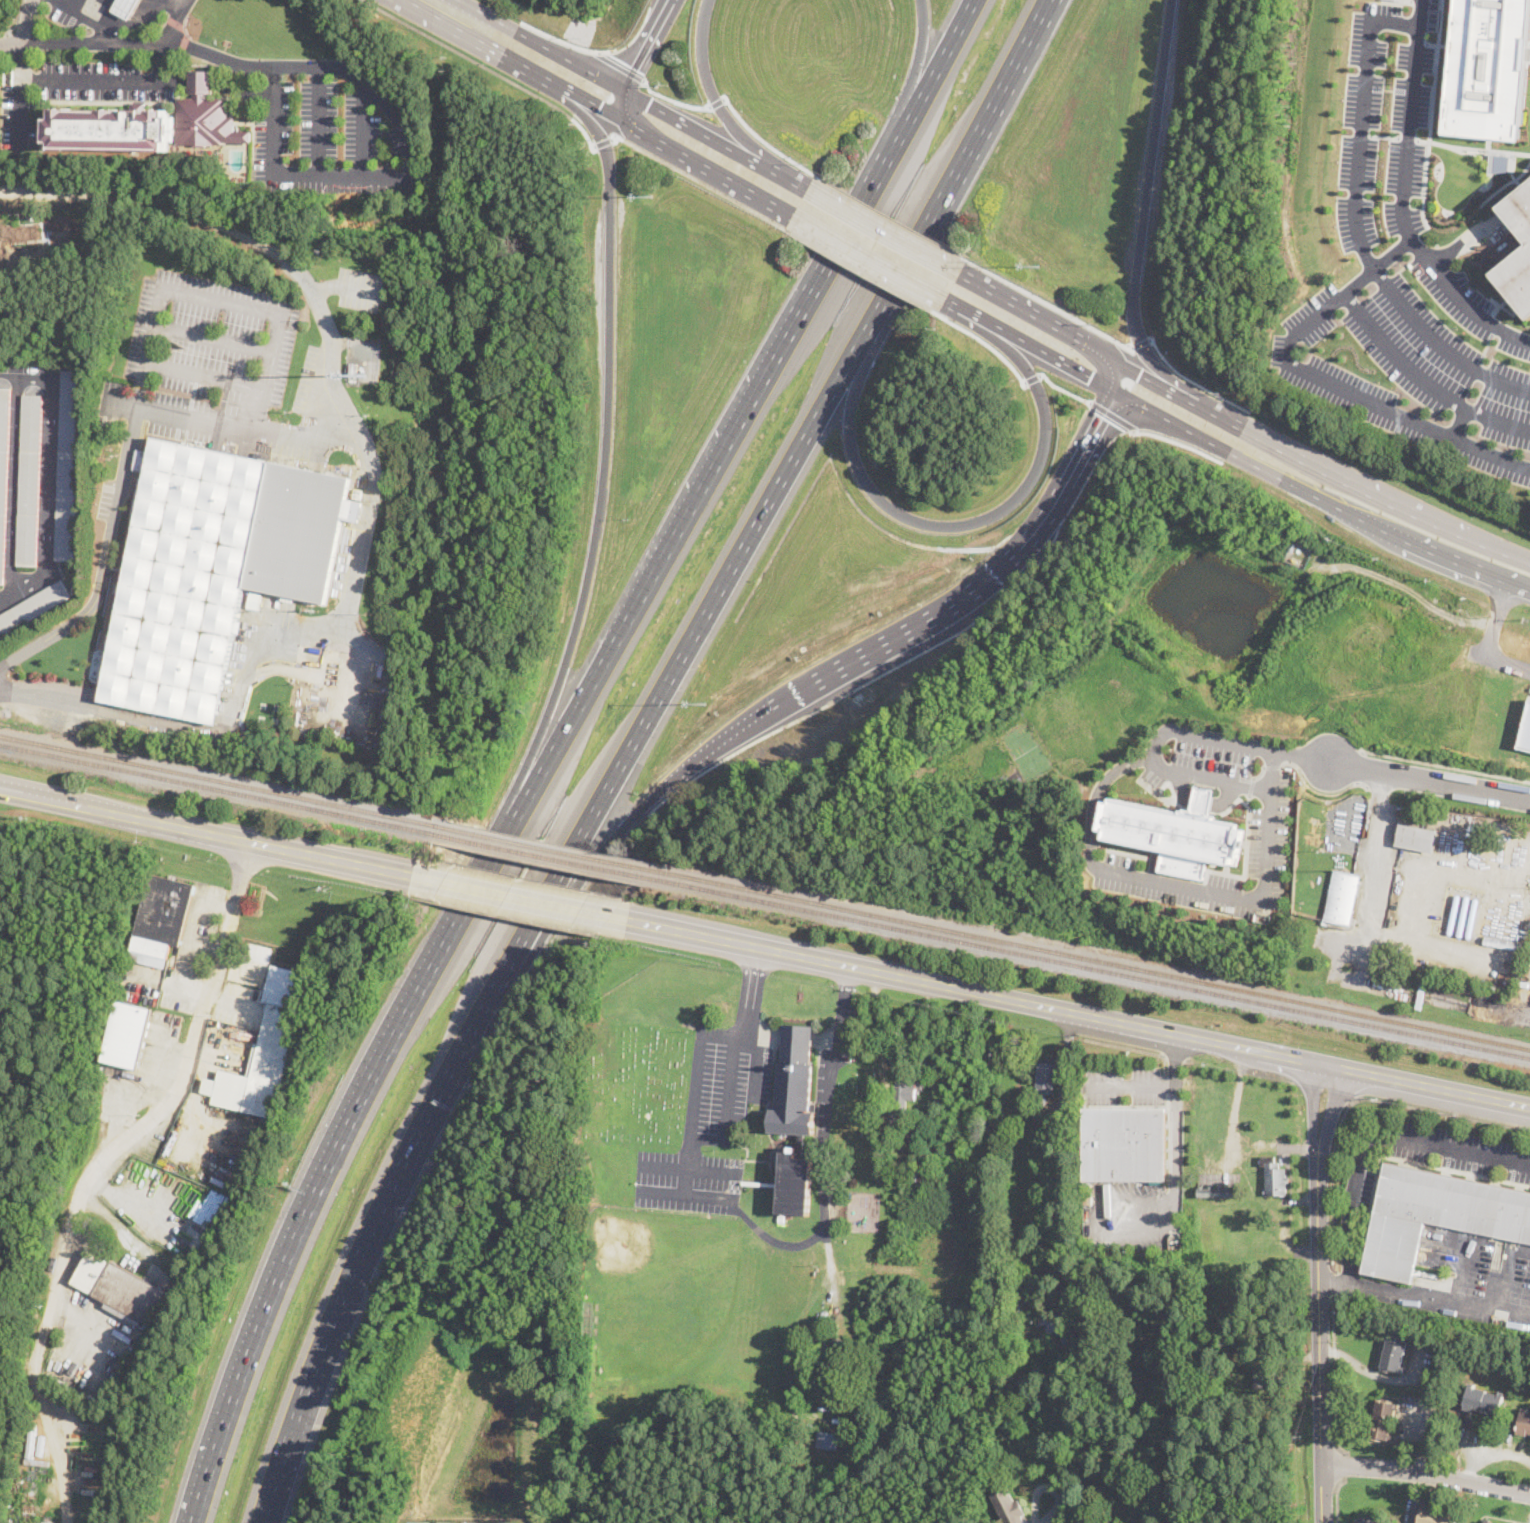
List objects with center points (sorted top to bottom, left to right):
road: (102, 0)
road: (105, 0)
road: (181, 1)
building: (125, 7)
gas station: (125, 7)
road: (16, 17)
road: (28, 21)
road: (125, 23)
road: (106, 33)
road: (563, 41)
road: (104, 43)
road: (164, 59)
road: (639, 60)
road: (620, 65)
road: (320, 66)
road: (484, 66)
traffic signals: (636, 67)
building: (1489, 68)
road: (914, 69)
road: (935, 69)
building: (8, 77)
road: (606, 80)
road: (93, 82)
building: (199, 83)
road: (708, 85)
road: (22, 97)
road: (673, 99)
road: (716, 102)
traffic signals: (649, 103)
road: (598, 108)
traffic signals: (598, 108)
road: (1432, 113)
road: (637, 115)
road: (277, 121)
road: (320, 121)
road: (1408, 121)
road: (1361, 122)
building: (145, 127)
parking lot: (1384, 127)
road: (363, 128)
parking lot: (334, 132)
road: (762, 140)
road: (604, 141)
road: (1473, 148)
road: (781, 172)
road: (344, 176)
road: (701, 182)
road: (1146, 197)
building: (1520, 211)
road: (888, 215)
road: (883, 229)
road: (246, 240)
road: (868, 258)
road: (860, 270)
building: (1517, 278)
road: (347, 285)
parking lot: (359, 288)
road: (1047, 303)
road: (262, 309)
road: (1029, 310)
road: (970, 314)
road: (1300, 328)
road: (214, 338)
road: (1142, 342)
road: (985, 343)
road: (1441, 344)
road: (1055, 357)
parking lot: (1417, 359)
road: (1135, 367)
road: (1111, 368)
parking lot: (222, 369)
traffic signals: (1141, 370)
building: (354, 371)
traffic signals: (1091, 377)
road: (1033, 378)
road: (1424, 380)
road: (1192, 381)
road: (1062, 389)
road: (1112, 414)
traffic signals: (1102, 416)
road: (228, 421)
road: (1460, 422)
road: (1090, 436)
road: (605, 440)
road: (1177, 442)
road: (1223, 448)
road: (795, 457)
building: (142, 460)
road: (1316, 464)
building: (69, 466)
building: (4, 470)
road: (48, 476)
road: (705, 478)
building: (30, 480)
road: (16, 485)
road: (1043, 516)
road: (1370, 522)
road: (962, 524)
road: (1498, 547)
road: (105, 556)
road: (1457, 558)
building: (213, 569)
road: (1519, 582)
building: (253, 601)
road: (1500, 602)
building: (33, 608)
road: (1441, 609)
road: (900, 634)
road: (261, 644)
building: (277, 703)
road: (1171, 729)
building: (1526, 732)
road: (705, 753)
road: (1445, 766)
railway: (220, 780)
road: (1430, 780)
railway: (218, 789)
road: (1094, 798)
building: (1400, 812)
road: (124, 813)
building: (1177, 833)
building: (1416, 838)
railway: (547, 847)
railway: (542, 855)
road: (336, 857)
road: (592, 861)
road: (526, 897)
road: (1252, 898)
building: (1342, 901)
road: (1370, 917)
building: (161, 919)
building: (1503, 943)
railway: (1091, 958)
railway: (1089, 967)
building: (1432, 967)
road: (749, 992)
road: (1524, 1000)
road: (1525, 1012)
road: (1078, 1018)
park: (50, 1034)
building: (127, 1035)
building: (264, 1051)
road: (752, 1063)
building: (1046, 1074)
parking lot: (1124, 1086)
road: (1131, 1088)
road: (693, 1091)
building: (902, 1098)
building: (1039, 1099)
road: (1355, 1102)
road: (828, 1103)
road: (728, 1104)
building: (798, 1114)
road: (1173, 1119)
parking lot: (708, 1124)
road: (1239, 1132)
building: (904, 1133)
building: (896, 1139)
road: (1378, 1142)
building: (1124, 1143)
parking lot: (1460, 1149)
building: (1055, 1158)
road: (329, 1159)
road: (689, 1165)
road: (99, 1167)
building: (925, 1168)
building: (1257, 1169)
building: (845, 1174)
building: (1275, 1177)
parking lot: (1358, 1186)
building: (1217, 1191)
road: (143, 1192)
road: (686, 1193)
building: (219, 1198)
road: (379, 1209)
road: (121, 1212)
parking lot: (1133, 1213)
building: (1436, 1216)
building: (781, 1218)
road: (1098, 1226)
road: (775, 1239)
road: (1464, 1255)
road: (1507, 1268)
road: (832, 1270)
parking lot: (1473, 1278)
road: (1334, 1285)
park: (661, 1287)
road: (1335, 1287)
building: (120, 1289)
road: (1319, 1297)
road: (1440, 1298)
building: (1156, 1308)
building: (1016, 1317)
building: (1055, 1324)
building: (1236, 1325)
building: (1221, 1328)
building: (1395, 1352)
building: (836, 1353)
building: (1023, 1363)
road: (1374, 1372)
building: (814, 1373)
building: (1265, 1377)
road: (1334, 1377)
building: (1247, 1379)
building: (1462, 1383)
building: (1483, 1401)
building: (1460, 1418)
building: (1383, 1419)
building: (1524, 1423)
building: (828, 1441)
road: (1488, 1454)
road: (1340, 1466)
road: (1426, 1476)
road: (1337, 1498)
building: (1008, 1507)
road: (1035, 1512)
building: (1435, 1517)
building: (1370, 1521)
parking lot: (428, 1522)
parking lot: (481, 1522)
building: (1487, 1522)

